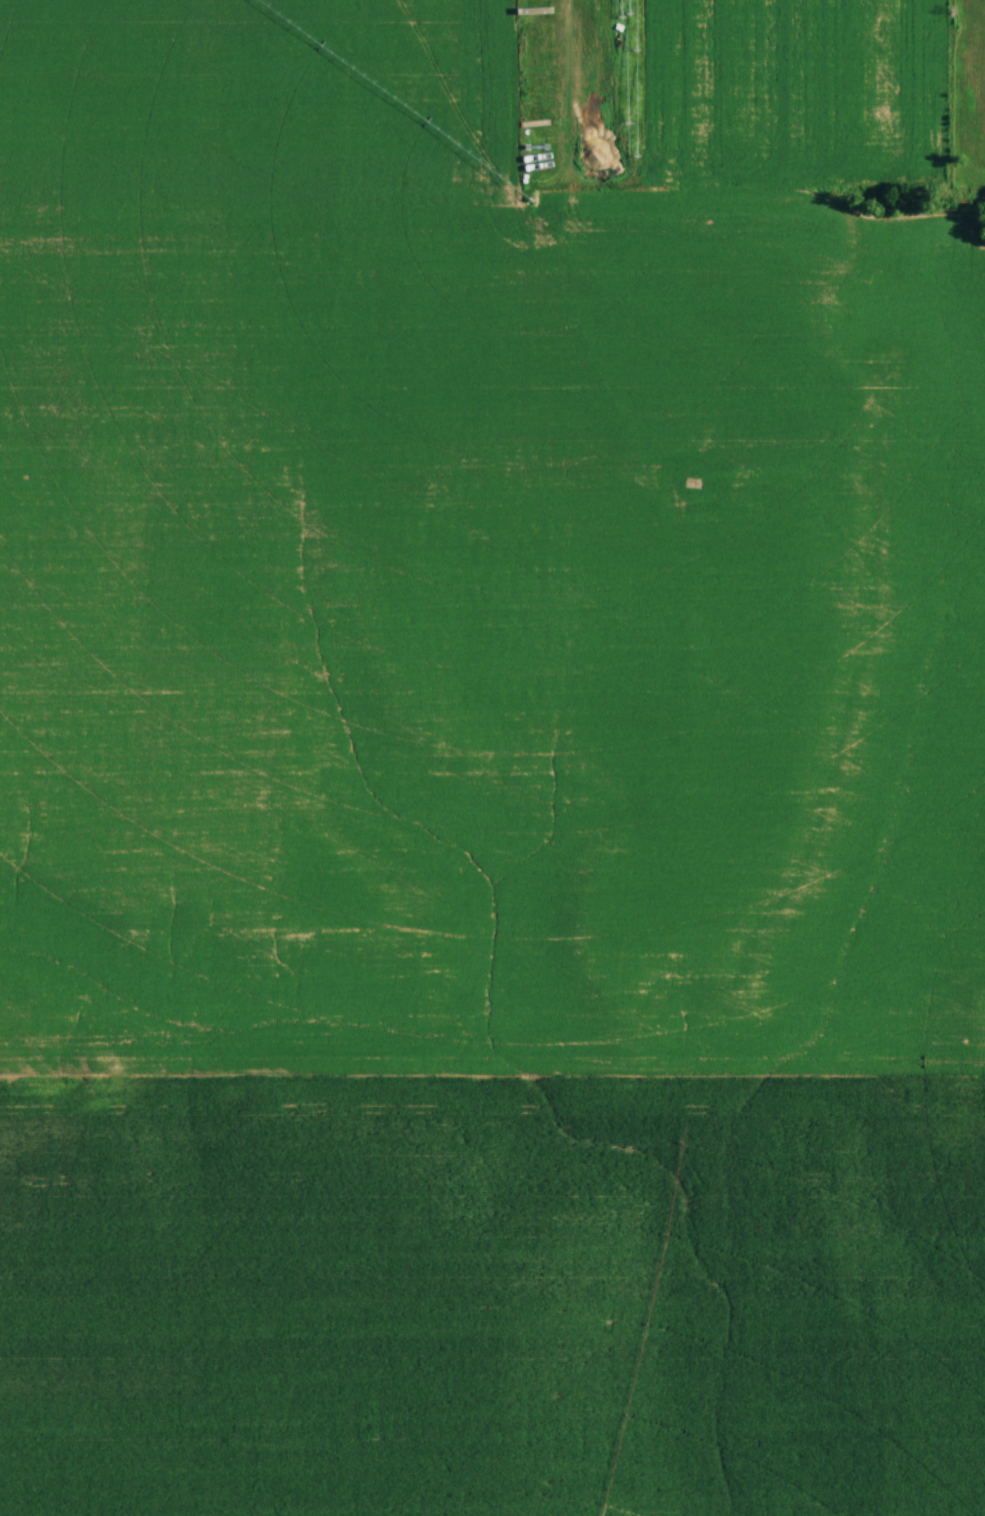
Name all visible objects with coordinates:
crop: (486, 777)

